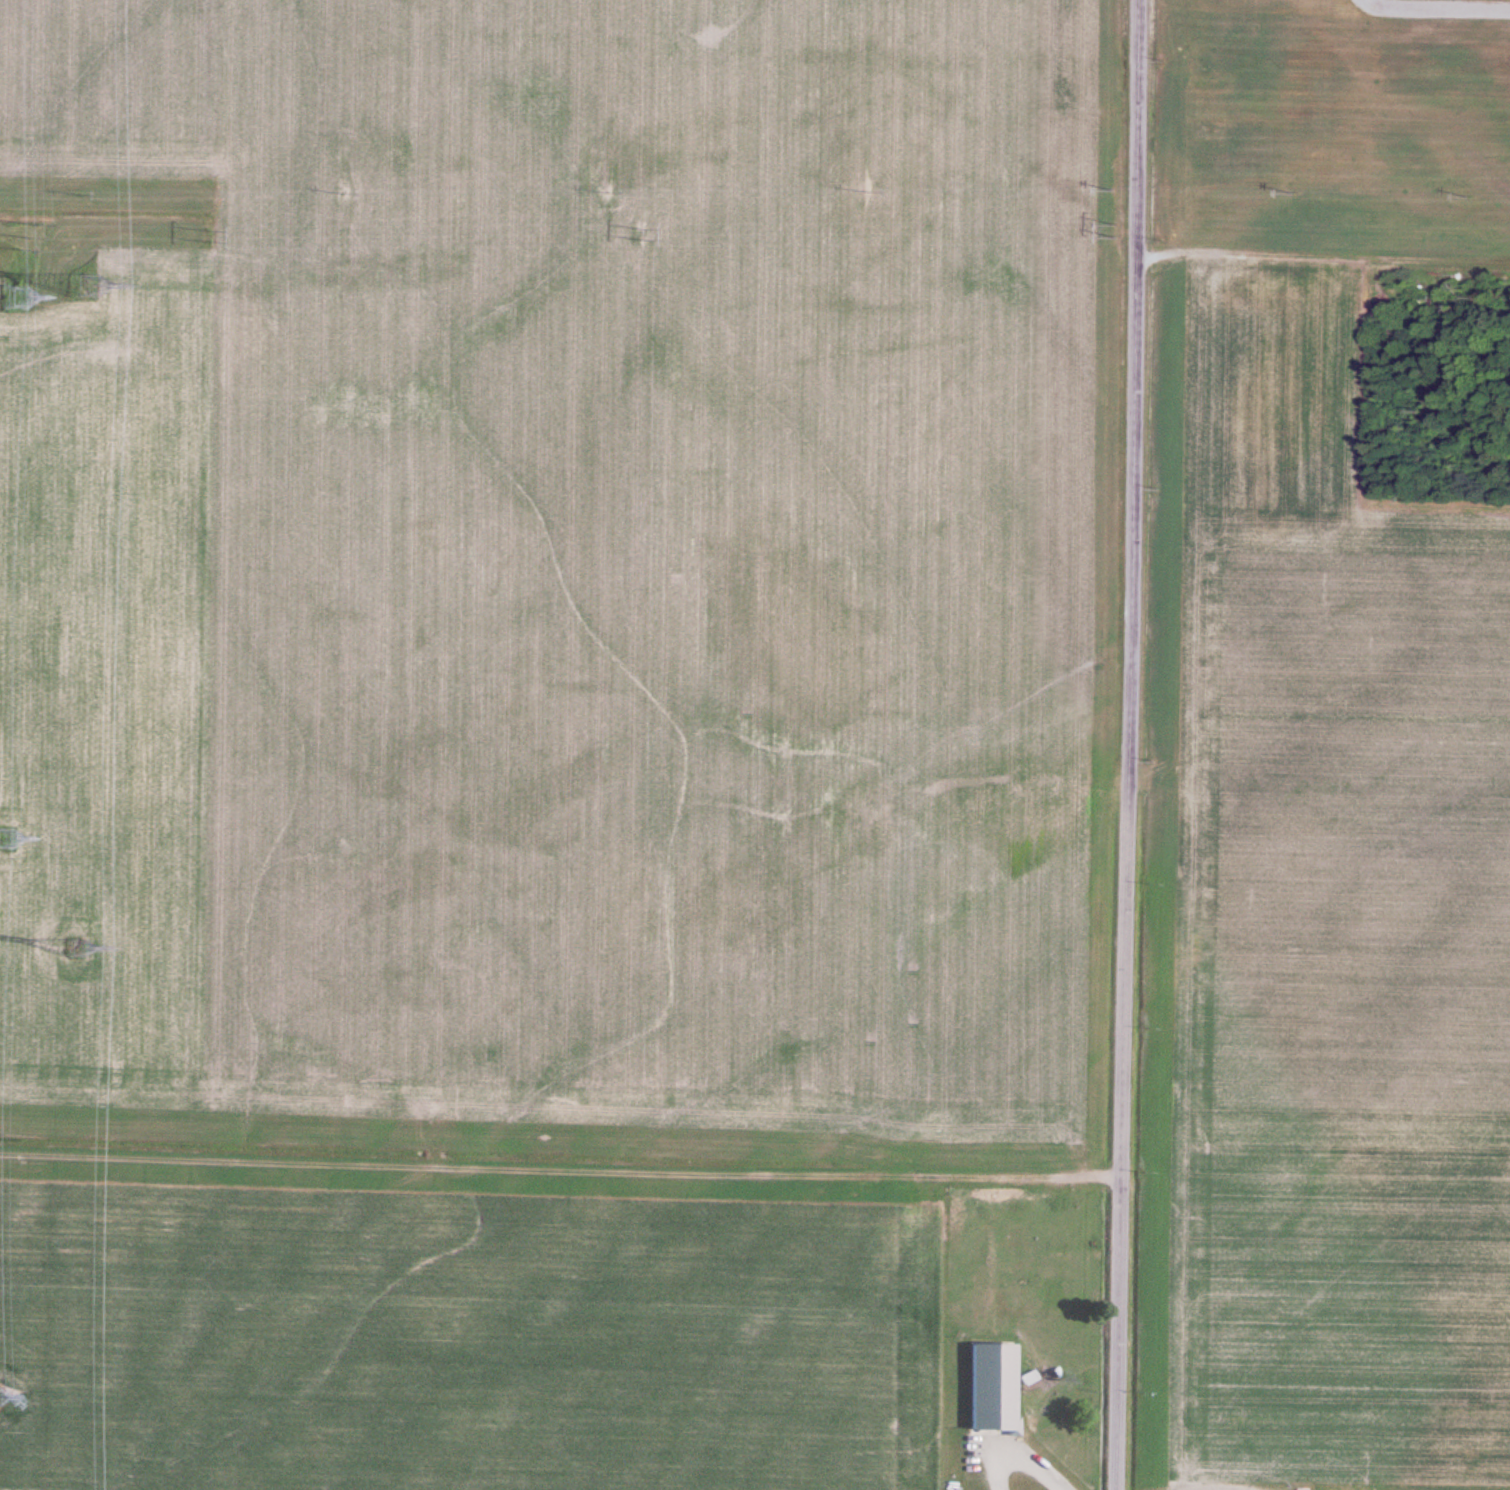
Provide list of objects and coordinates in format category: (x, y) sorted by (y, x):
crop: (109, 87)
crop: (1333, 127)
power tower: (1115, 232)
power tower: (642, 233)
power tower: (209, 237)
power tower: (30, 238)
road: (1323, 259)
power tower: (83, 287)
power tower: (17, 296)
crop: (666, 568)
crop: (107, 687)
road: (1129, 745)
power tower: (9, 841)
crop: (1318, 921)
power tower: (77, 948)
road: (561, 1174)
crop: (464, 1342)
power tower: (1, 1400)

